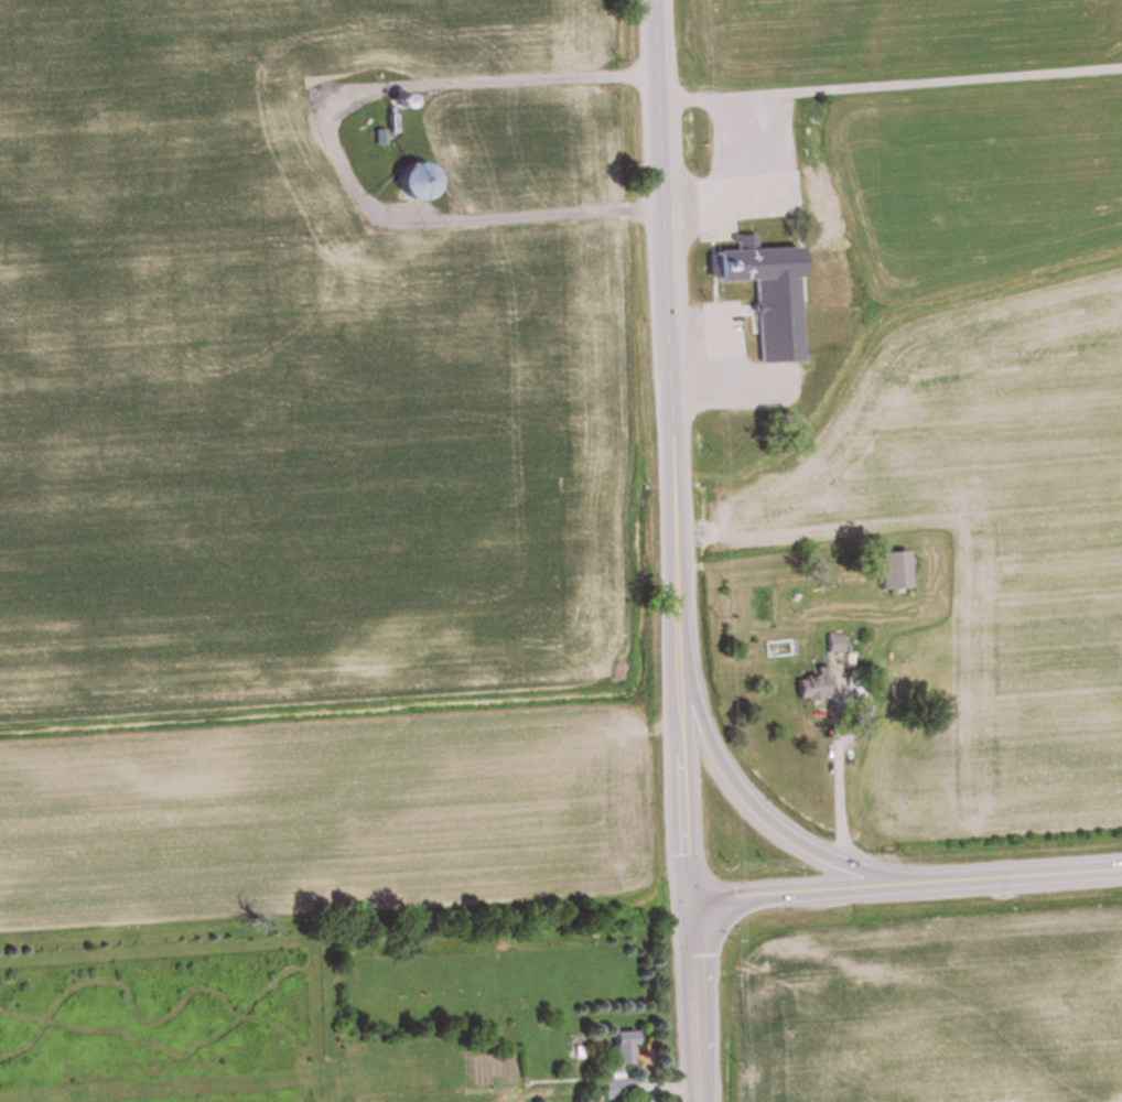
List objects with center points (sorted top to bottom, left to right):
road: (887, 75)
road: (331, 145)
building: (766, 295)
road: (667, 446)
building: (892, 572)
building: (834, 646)
building: (813, 688)
road: (754, 808)
road: (903, 879)
road: (689, 998)
building: (619, 1050)
building: (616, 1090)

